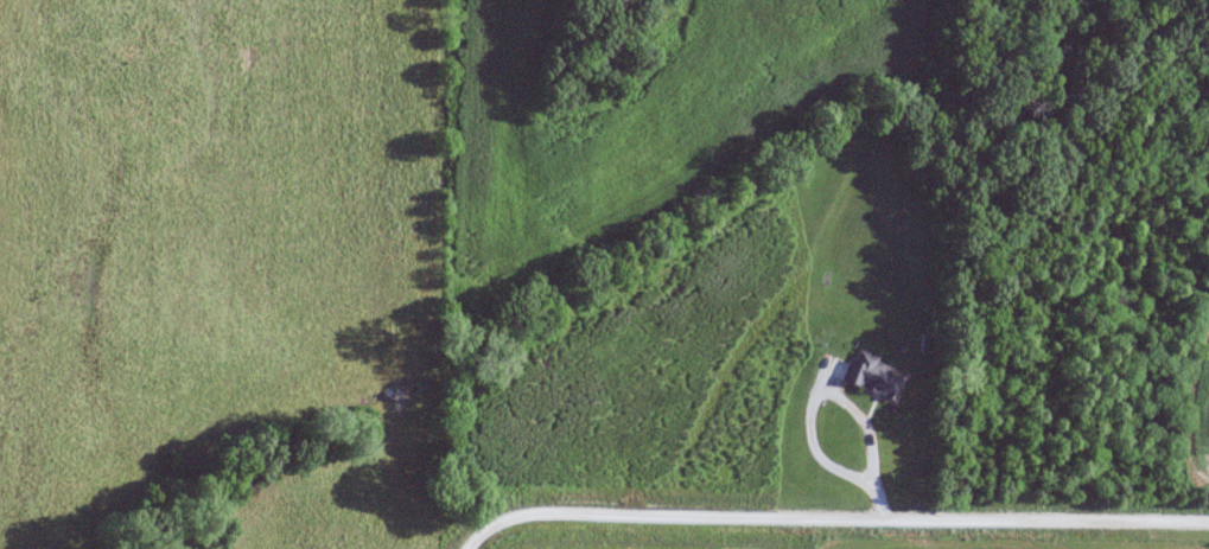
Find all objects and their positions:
building: (871, 377)
road: (829, 515)

